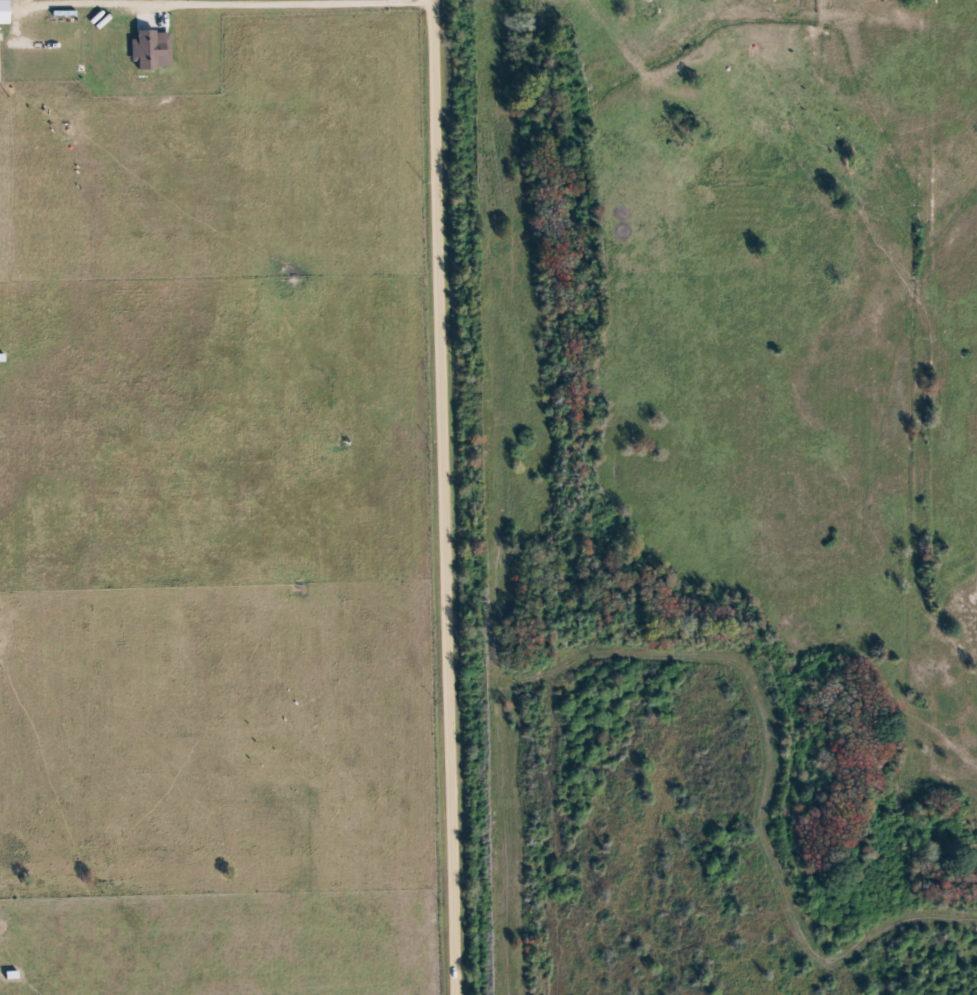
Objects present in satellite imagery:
building: (2, 12)
building: (149, 49)
road: (445, 497)

